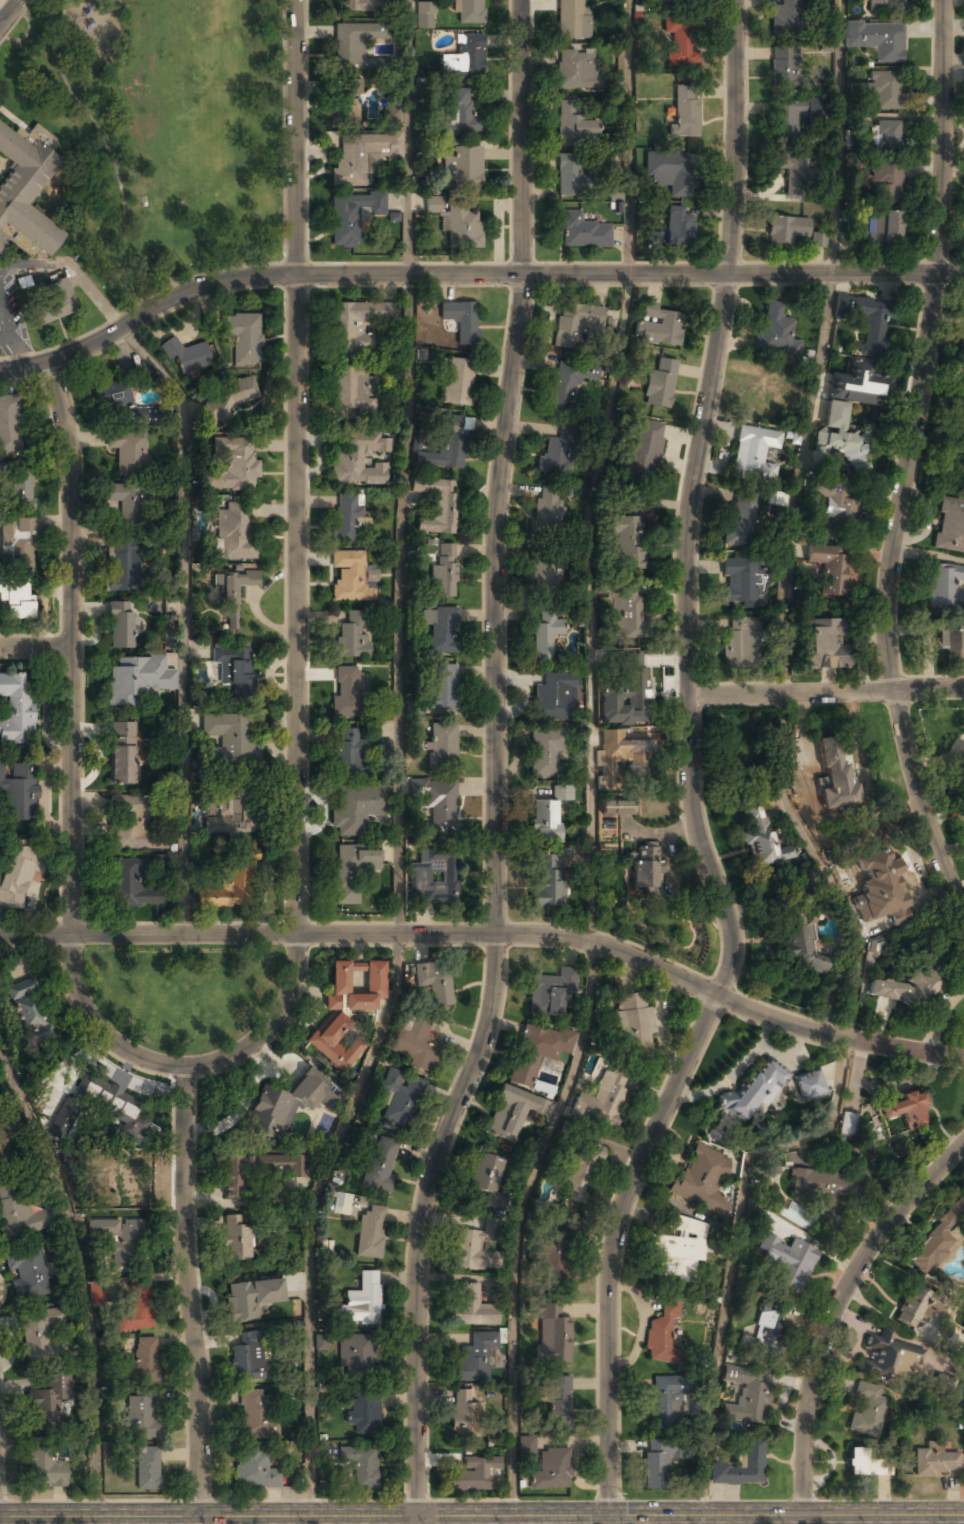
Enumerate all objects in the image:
building: (677, 0)
building: (356, 6)
building: (886, 6)
road: (9, 11)
building: (469, 12)
building: (424, 14)
building: (787, 17)
building: (572, 20)
building: (878, 40)
building: (682, 41)
building: (354, 44)
building: (465, 58)
building: (784, 68)
building: (574, 69)
building: (881, 90)
building: (347, 103)
building: (817, 108)
building: (458, 112)
building: (684, 112)
building: (392, 115)
building: (858, 120)
building: (787, 121)
building: (574, 123)
park: (166, 129)
building: (887, 136)
building: (362, 156)
building: (463, 168)
building: (668, 172)
building: (797, 173)
building: (569, 175)
building: (886, 184)
building: (25, 193)
building: (351, 218)
building: (462, 226)
building: (678, 228)
building: (786, 230)
building: (581, 232)
building: (879, 232)
building: (653, 238)
building: (818, 240)
road: (732, 241)
road: (936, 246)
road: (295, 261)
road: (522, 261)
road: (471, 275)
building: (52, 302)
parking lot: (8, 319)
building: (462, 320)
building: (866, 322)
building: (576, 323)
building: (357, 324)
building: (660, 327)
building: (776, 332)
building: (244, 337)
road: (820, 347)
building: (187, 356)
building: (458, 380)
building: (660, 383)
building: (858, 385)
building: (563, 388)
building: (353, 390)
building: (760, 395)
building: (111, 397)
building: (227, 399)
building: (961, 399)
building: (835, 416)
building: (8, 427)
road: (64, 427)
building: (963, 440)
building: (446, 446)
building: (645, 449)
building: (129, 450)
building: (840, 450)
building: (558, 451)
building: (754, 455)
building: (361, 460)
building: (233, 466)
building: (5, 467)
road: (404, 467)
road: (600, 470)
building: (23, 489)
building: (776, 499)
building: (837, 500)
building: (124, 502)
building: (437, 504)
building: (551, 504)
building: (347, 519)
building: (742, 519)
building: (950, 525)
building: (234, 535)
building: (632, 540)
building: (16, 544)
building: (121, 566)
building: (830, 567)
building: (444, 572)
building: (548, 572)
building: (350, 577)
building: (740, 582)
building: (945, 587)
building: (16, 597)
building: (234, 598)
building: (628, 611)
building: (121, 625)
building: (441, 628)
building: (547, 633)
building: (351, 636)
building: (951, 642)
building: (740, 643)
building: (825, 643)
road: (37, 648)
building: (233, 667)
building: (138, 678)
building: (634, 686)
building: (441, 687)
building: (348, 692)
road: (825, 692)
building: (556, 697)
road: (897, 703)
building: (16, 710)
road: (74, 713)
road: (298, 729)
building: (229, 737)
building: (442, 746)
building: (355, 752)
building: (122, 753)
building: (545, 754)
building: (638, 754)
building: (835, 776)
building: (19, 790)
building: (563, 792)
building: (211, 803)
building: (439, 805)
building: (617, 807)
building: (357, 808)
building: (230, 811)
building: (545, 821)
building: (133, 822)
building: (763, 838)
building: (159, 861)
building: (352, 870)
building: (645, 870)
building: (16, 873)
building: (433, 878)
building: (232, 879)
building: (548, 881)
building: (130, 884)
building: (880, 888)
road: (492, 934)
building: (799, 934)
building: (435, 983)
building: (904, 990)
building: (551, 992)
road: (714, 1003)
building: (347, 1009)
building: (27, 1010)
building: (633, 1023)
road: (484, 1027)
building: (416, 1044)
building: (537, 1052)
road: (183, 1066)
building: (60, 1079)
building: (809, 1085)
building: (542, 1087)
building: (755, 1091)
building: (400, 1097)
building: (604, 1099)
building: (287, 1102)
building: (121, 1106)
building: (905, 1110)
building: (512, 1113)
building: (848, 1123)
road: (829, 1125)
building: (3, 1138)
building: (6, 1162)
building: (380, 1164)
building: (769, 1169)
building: (256, 1170)
building: (580, 1170)
building: (487, 1176)
building: (702, 1180)
building: (132, 1182)
building: (829, 1187)
building: (341, 1204)
building: (22, 1214)
building: (800, 1216)
road: (309, 1217)
road: (519, 1223)
building: (371, 1232)
building: (937, 1238)
building: (238, 1239)
building: (120, 1242)
building: (474, 1251)
building: (678, 1251)
building: (552, 1258)
building: (789, 1260)
building: (28, 1272)
road: (82, 1281)
road: (187, 1291)
building: (95, 1295)
building: (252, 1297)
building: (361, 1302)
building: (472, 1306)
building: (135, 1307)
road: (836, 1309)
building: (910, 1310)
building: (764, 1332)
building: (663, 1333)
building: (40, 1334)
building: (552, 1334)
building: (321, 1342)
building: (356, 1353)
building: (247, 1357)
building: (476, 1357)
building: (888, 1358)
building: (144, 1359)
building: (946, 1381)
building: (749, 1397)
building: (47, 1400)
building: (559, 1400)
building: (665, 1402)
building: (868, 1410)
building: (363, 1412)
building: (464, 1415)
building: (255, 1416)
building: (140, 1417)
building: (869, 1462)
building: (937, 1462)
building: (659, 1463)
building: (361, 1465)
building: (740, 1467)
building: (45, 1468)
building: (254, 1468)
building: (147, 1469)
building: (551, 1469)
building: (474, 1475)
road: (481, 1516)
road: (512, 1520)
road: (609, 1520)
road: (702, 1520)

